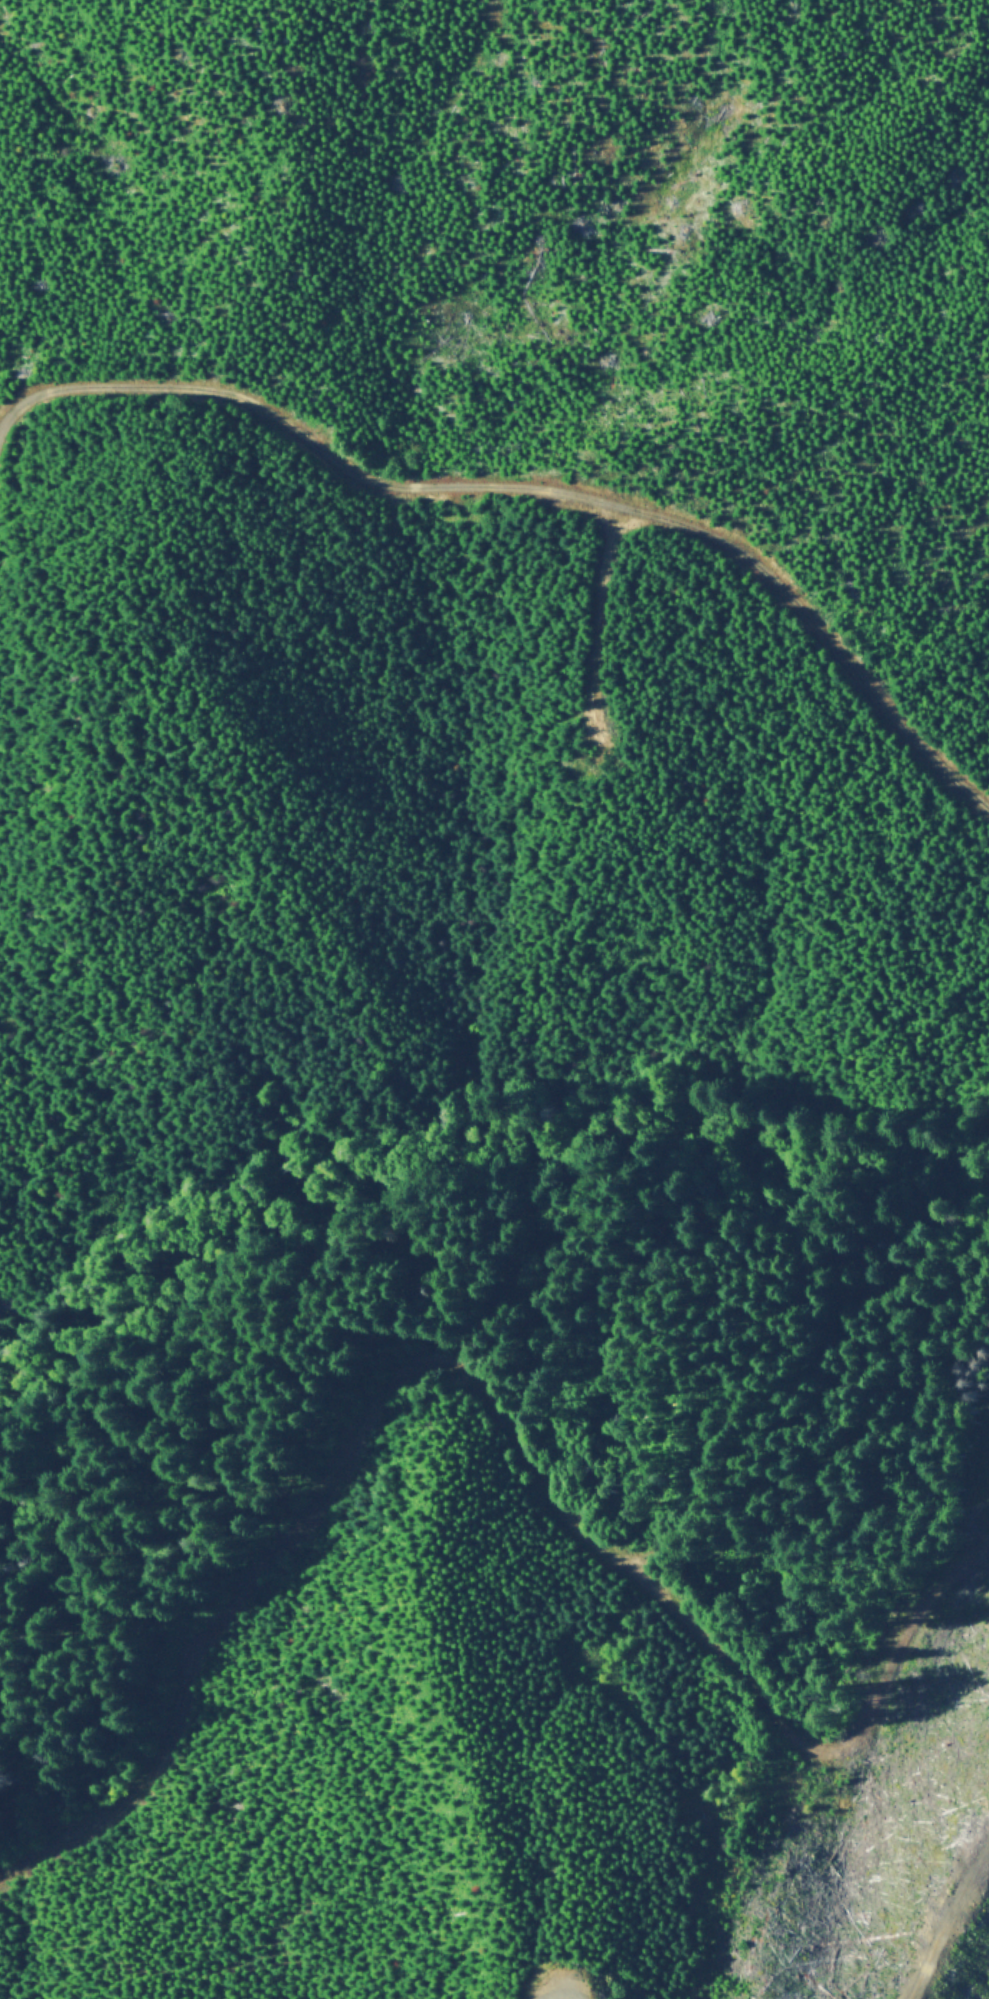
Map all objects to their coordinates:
road: (535, 484)
road: (492, 1394)

